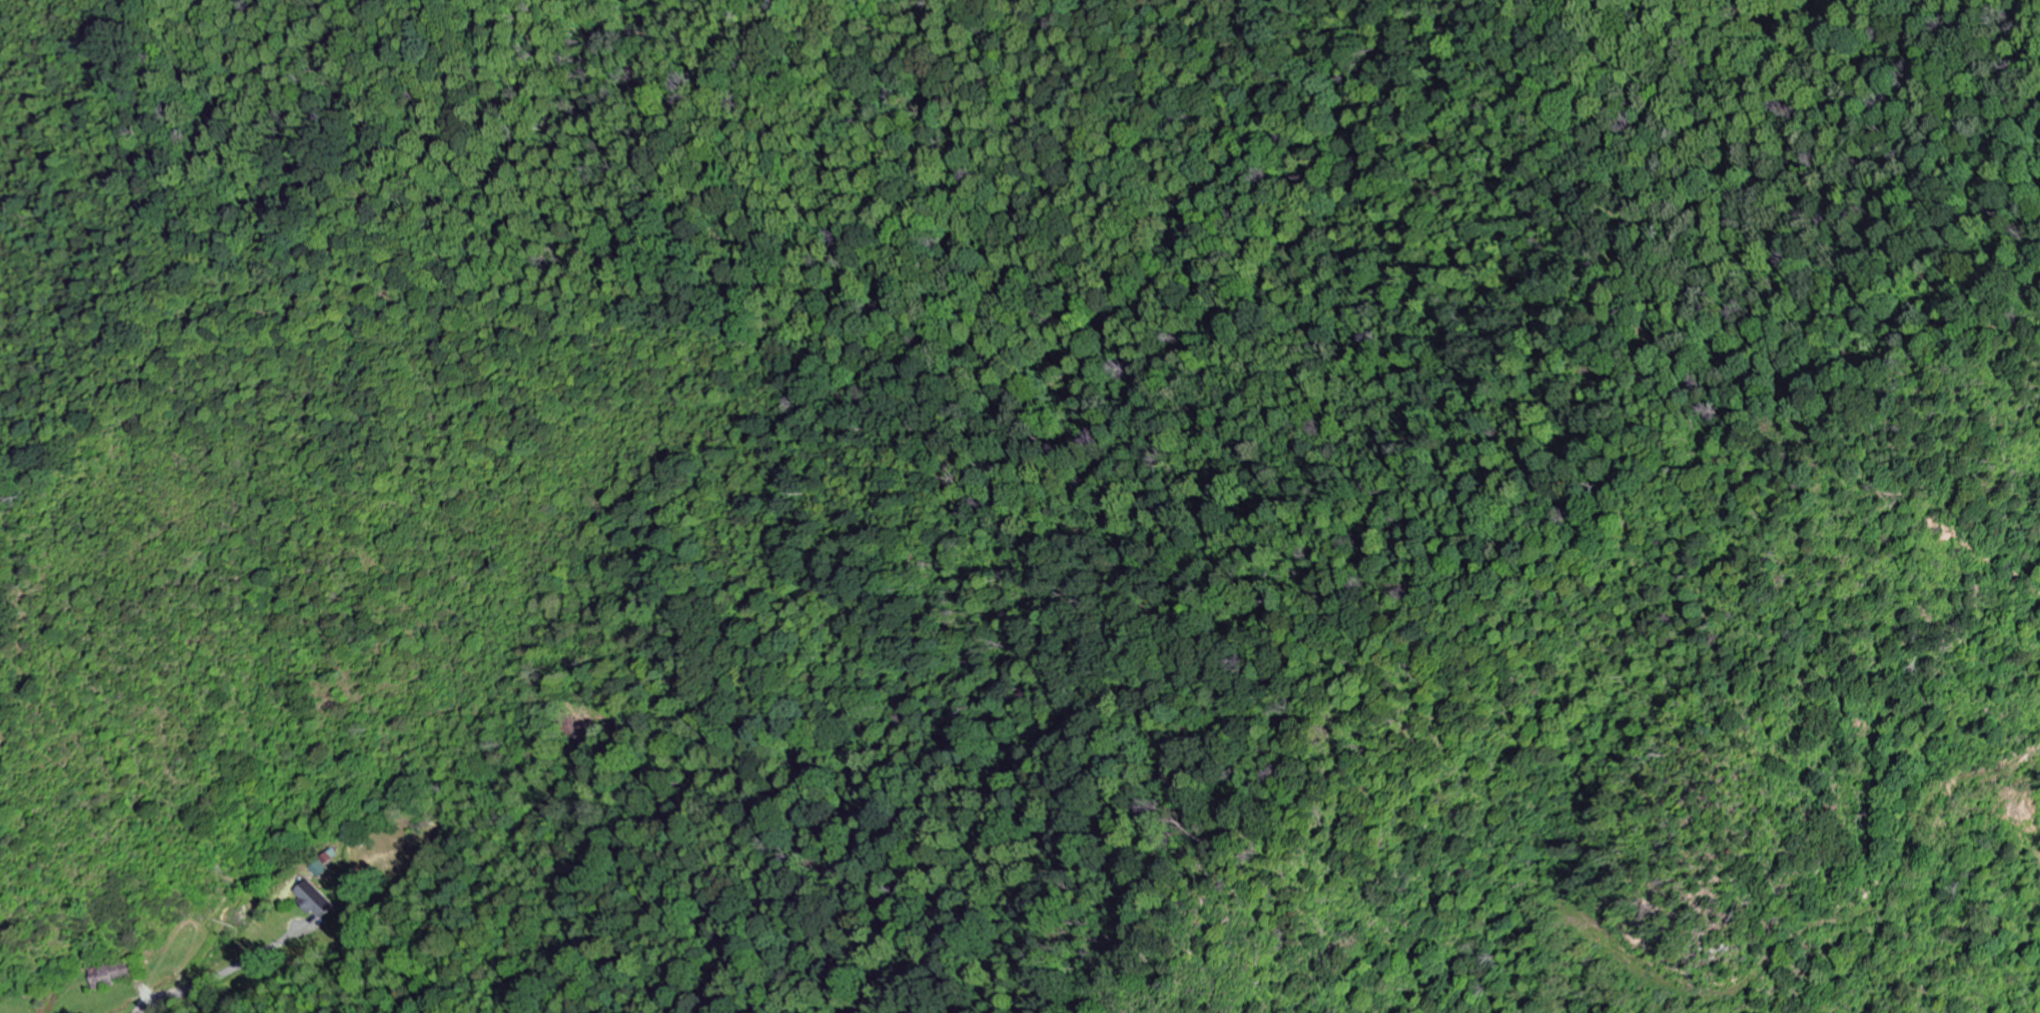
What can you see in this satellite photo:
building: (317, 902)
building: (115, 973)
road: (214, 976)

